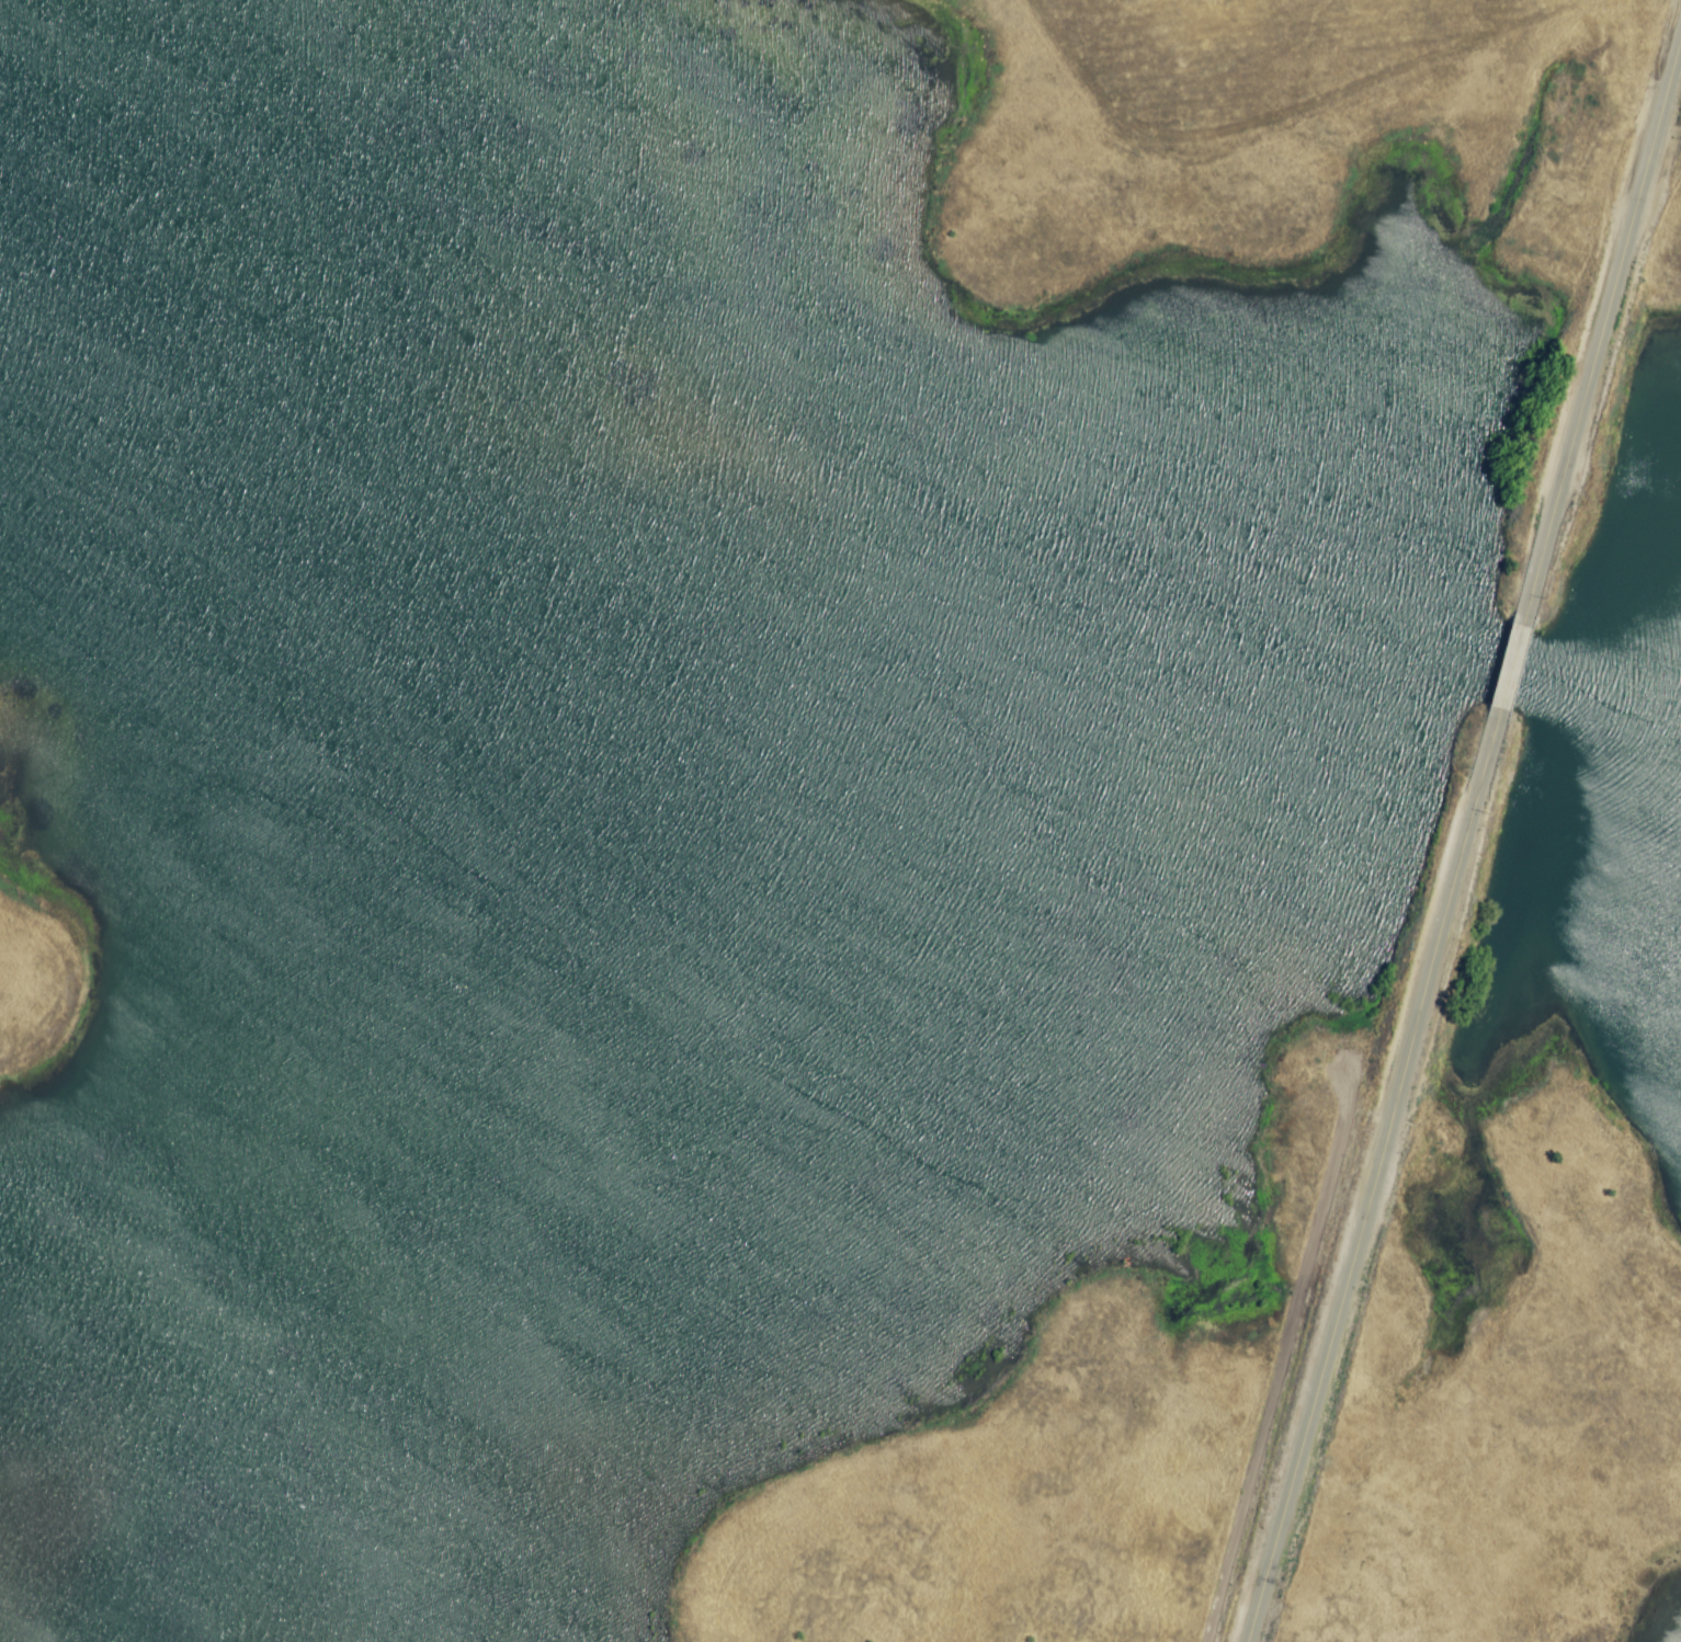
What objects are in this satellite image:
road: (1609, 318)
road: (1511, 671)
road: (1372, 1184)

